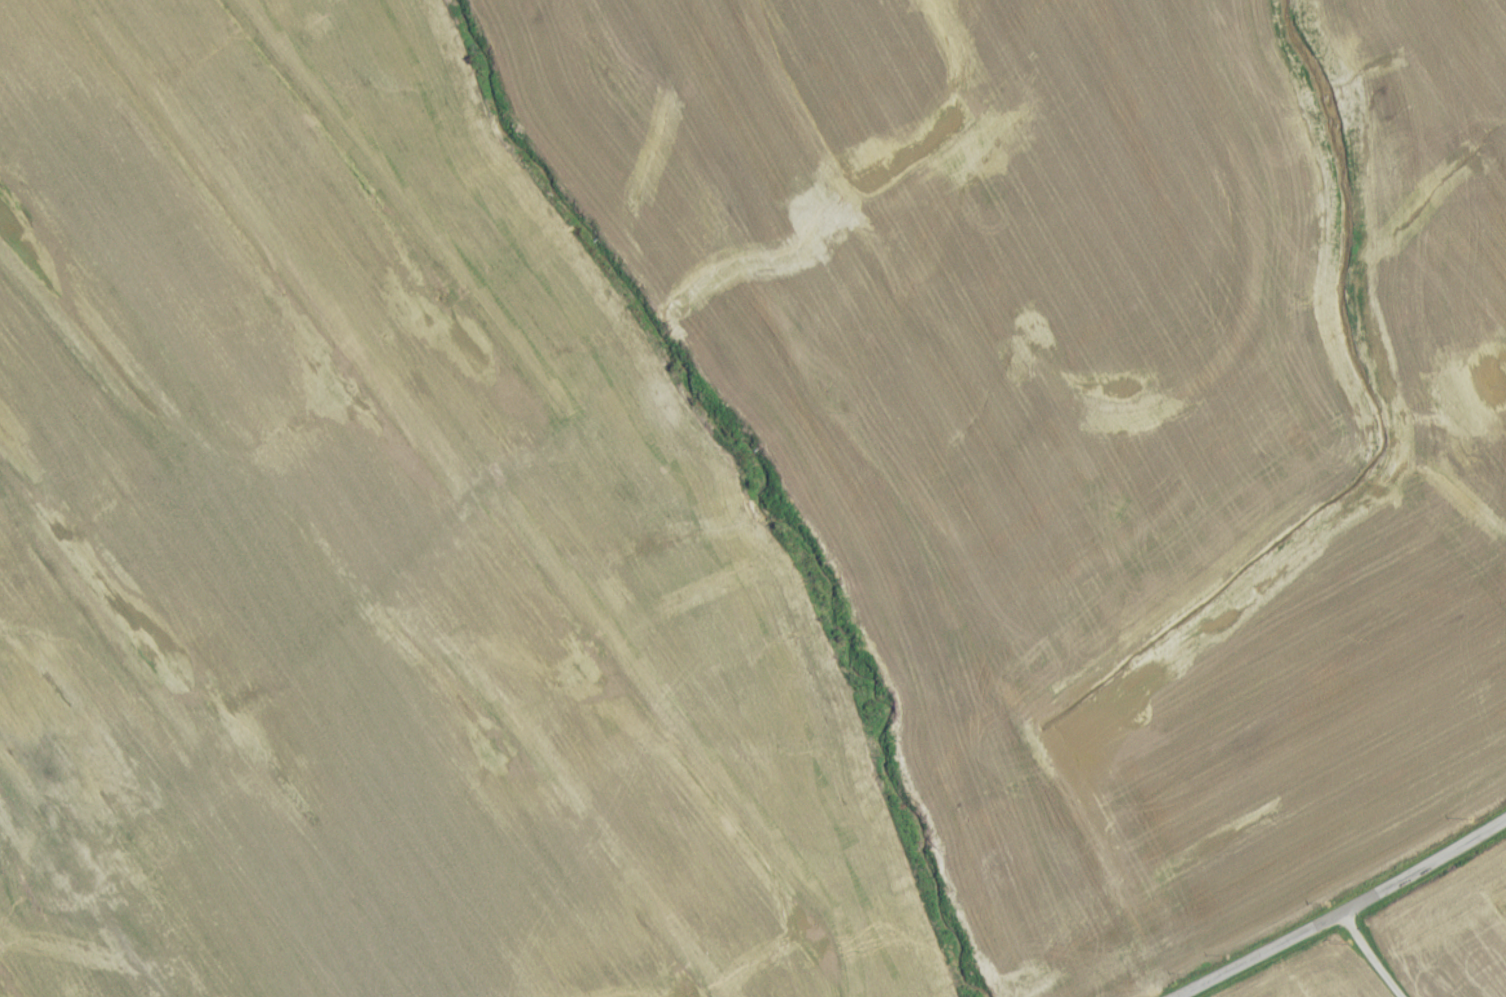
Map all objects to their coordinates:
road: (1350, 910)
road: (1368, 957)

